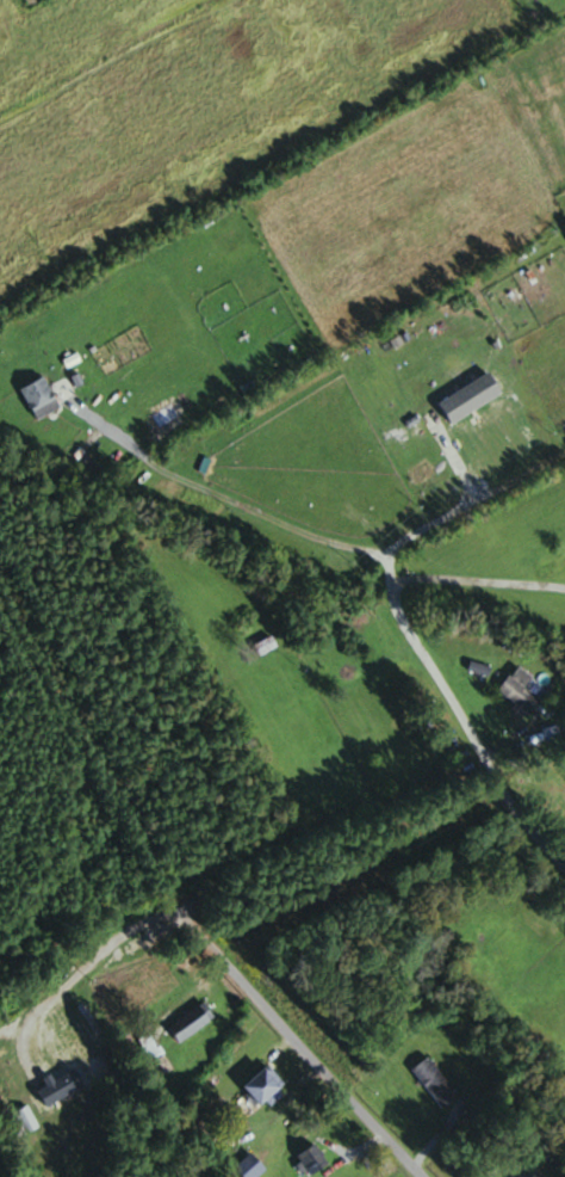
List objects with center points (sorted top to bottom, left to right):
building: (466, 394)
building: (42, 399)
road: (223, 499)
road: (390, 575)
road: (477, 583)
building: (266, 645)
building: (521, 691)
road: (550, 831)
road: (195, 899)
road: (119, 936)
building: (83, 1015)
building: (193, 1021)
building: (436, 1082)
building: (51, 1083)
building: (267, 1086)
building: (23, 1121)
road: (434, 1141)
building: (312, 1160)
building: (529, 1172)

